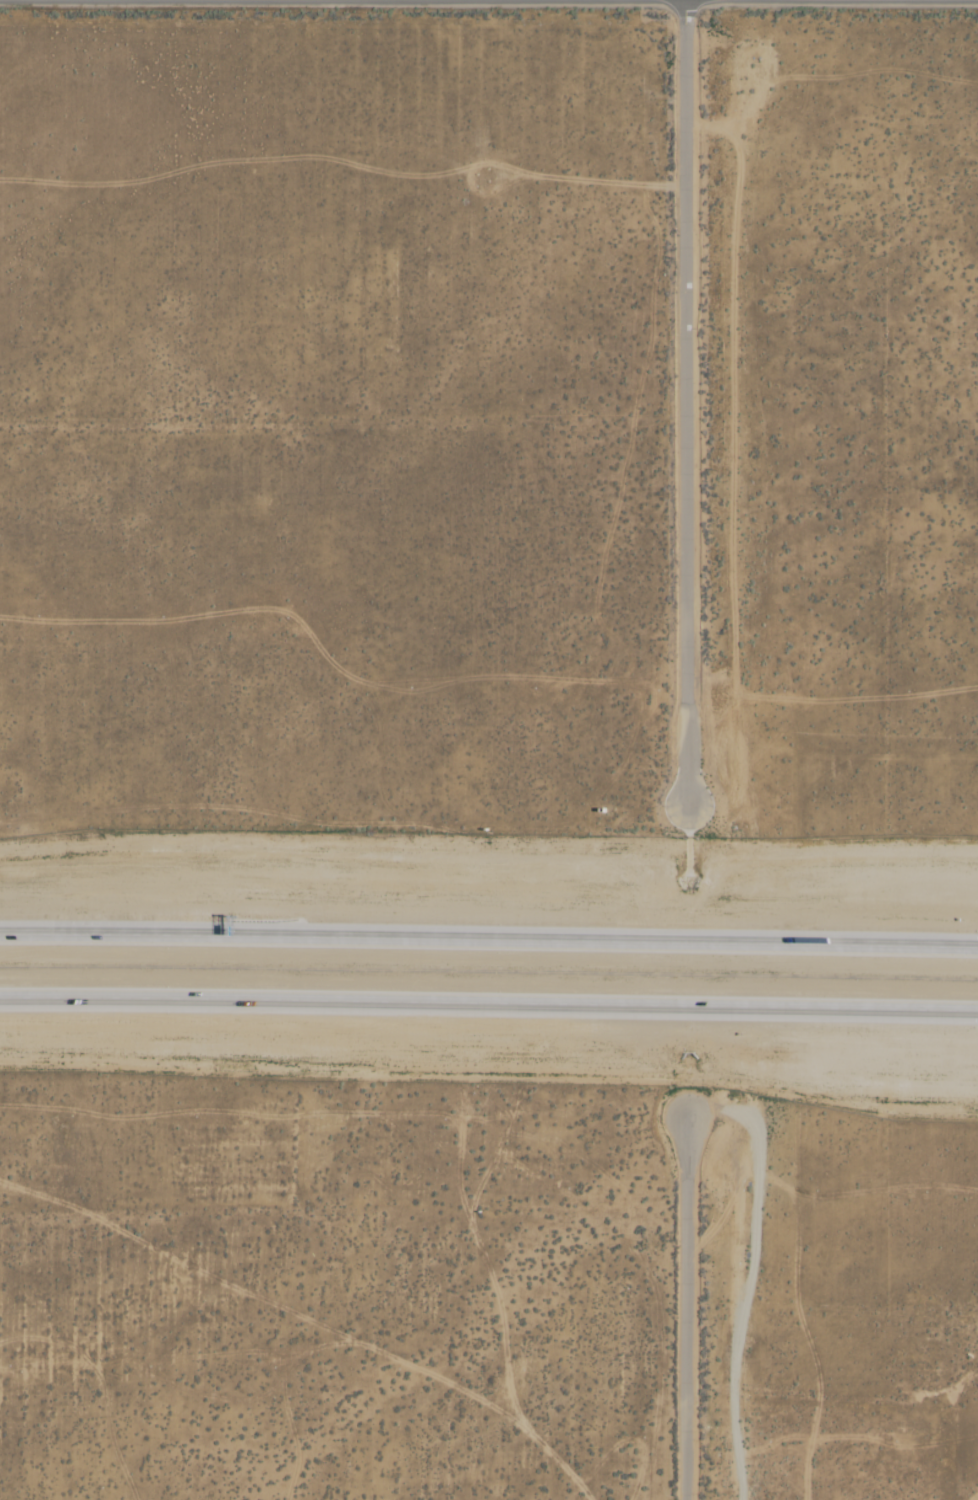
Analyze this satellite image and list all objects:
road: (686, 401)
road: (489, 941)
road: (489, 1006)
road: (689, 1307)

